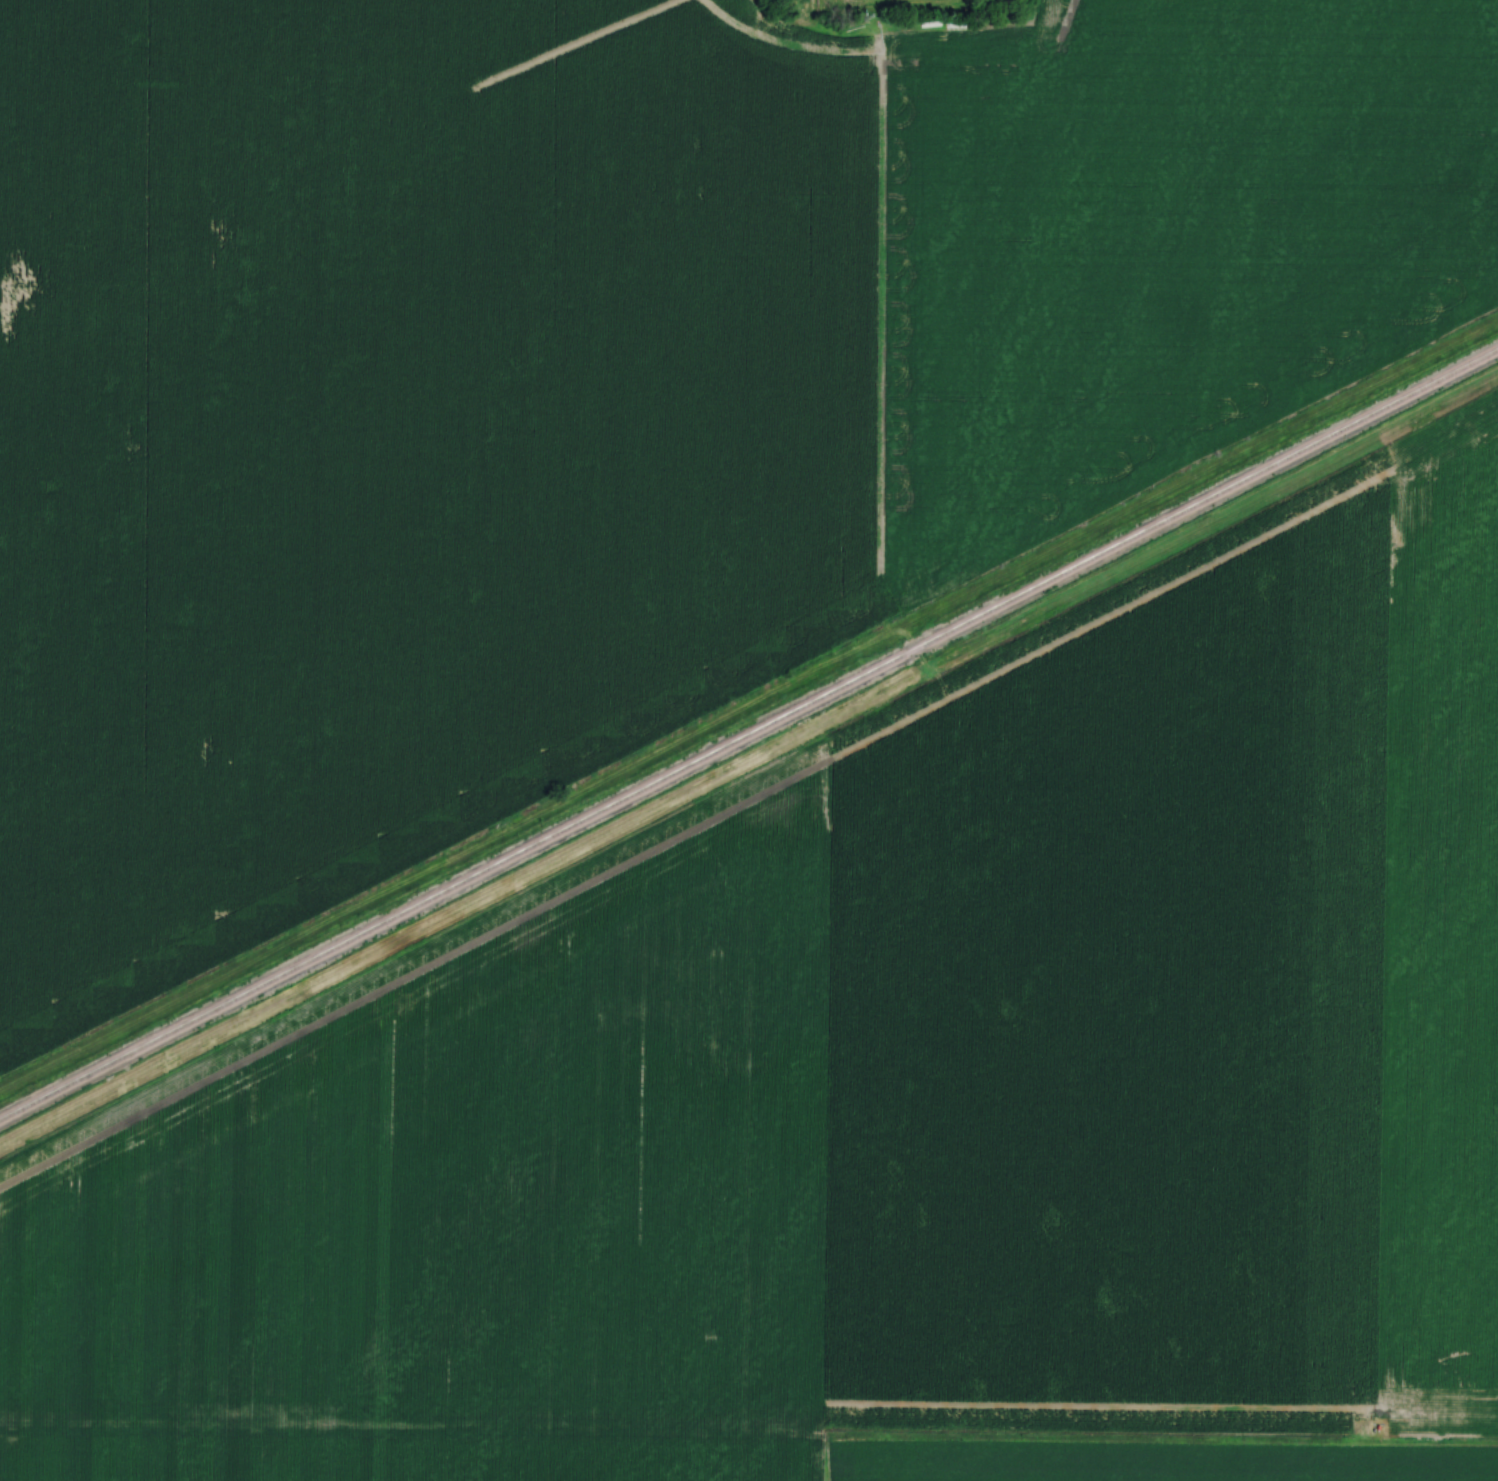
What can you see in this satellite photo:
railway: (749, 725)

